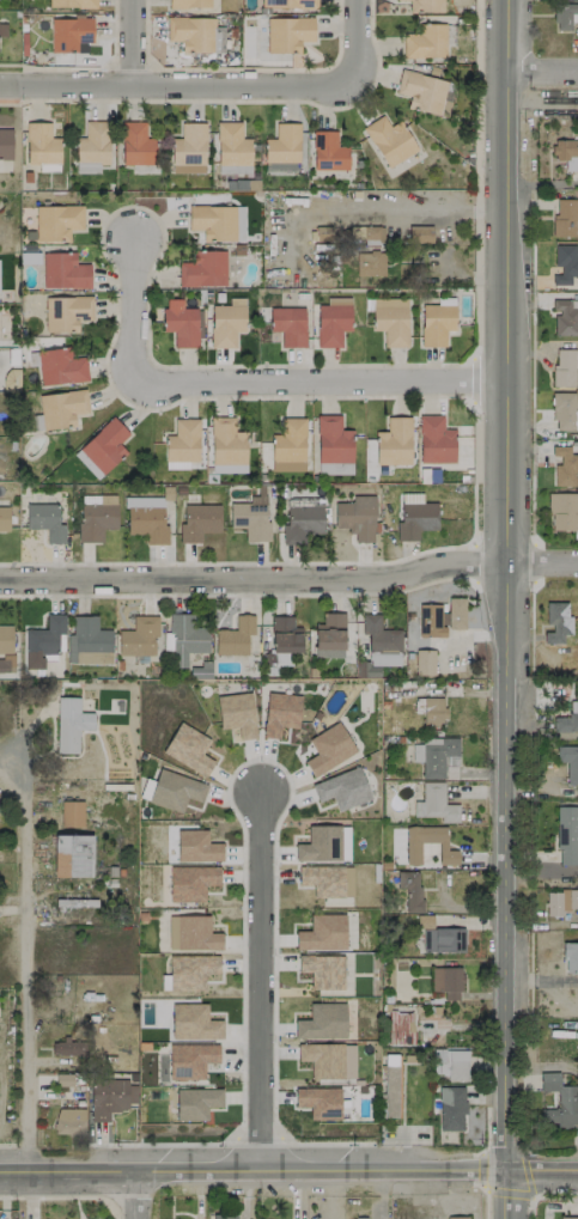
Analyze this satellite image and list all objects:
building: (72, 2)
building: (188, 4)
building: (290, 4)
building: (425, 5)
building: (565, 16)
building: (2, 29)
building: (69, 32)
building: (195, 33)
building: (287, 33)
road: (134, 42)
road: (360, 43)
road: (543, 69)
road: (180, 84)
building: (421, 91)
building: (389, 140)
building: (5, 144)
building: (135, 144)
building: (282, 144)
building: (42, 146)
building: (92, 147)
building: (188, 148)
building: (232, 148)
building: (328, 151)
building: (566, 152)
building: (281, 166)
road: (404, 208)
building: (565, 217)
building: (56, 221)
building: (218, 221)
building: (420, 233)
building: (366, 234)
building: (370, 263)
building: (565, 264)
building: (202, 269)
building: (63, 270)
road: (132, 306)
building: (66, 312)
building: (565, 317)
building: (333, 321)
building: (437, 321)
building: (180, 323)
building: (225, 324)
building: (288, 324)
building: (391, 324)
building: (60, 366)
building: (564, 366)
road: (320, 380)
building: (61, 408)
building: (564, 410)
building: (331, 439)
building: (434, 439)
building: (394, 441)
building: (182, 444)
building: (104, 445)
building: (288, 445)
building: (226, 446)
building: (86, 463)
building: (564, 465)
building: (334, 468)
building: (562, 511)
building: (96, 516)
building: (146, 517)
building: (250, 517)
building: (357, 517)
building: (4, 518)
building: (415, 519)
building: (45, 520)
building: (199, 520)
building: (302, 522)
road: (290, 578)
road: (505, 609)
building: (440, 616)
building: (556, 621)
building: (285, 634)
building: (379, 634)
building: (235, 635)
building: (329, 635)
building: (139, 636)
building: (5, 638)
building: (185, 638)
building: (87, 641)
building: (6, 662)
building: (424, 662)
building: (433, 711)
building: (237, 713)
building: (280, 713)
building: (566, 720)
building: (69, 724)
building: (188, 748)
building: (328, 748)
building: (433, 755)
building: (342, 788)
building: (175, 790)
building: (434, 803)
building: (72, 812)
building: (567, 834)
building: (324, 843)
building: (196, 846)
building: (413, 846)
building: (72, 854)
road: (570, 871)
road: (533, 872)
building: (327, 879)
building: (191, 882)
building: (410, 889)
building: (560, 901)
building: (322, 932)
building: (191, 933)
building: (439, 935)
road: (20, 946)
building: (570, 957)
building: (190, 970)
building: (323, 970)
building: (446, 981)
road: (257, 985)
building: (193, 1022)
building: (322, 1022)
building: (68, 1047)
building: (329, 1059)
building: (190, 1060)
building: (450, 1063)
building: (390, 1085)
building: (108, 1097)
building: (196, 1102)
building: (318, 1102)
building: (559, 1102)
building: (451, 1108)
building: (69, 1120)
road: (251, 1172)
road: (541, 1172)
road: (513, 1193)
road: (382, 1195)
road: (141, 1196)
road: (555, 1197)
road: (485, 1205)
building: (224, 1215)
building: (456, 1217)
building: (357, 1218)
building: (568, 1218)

